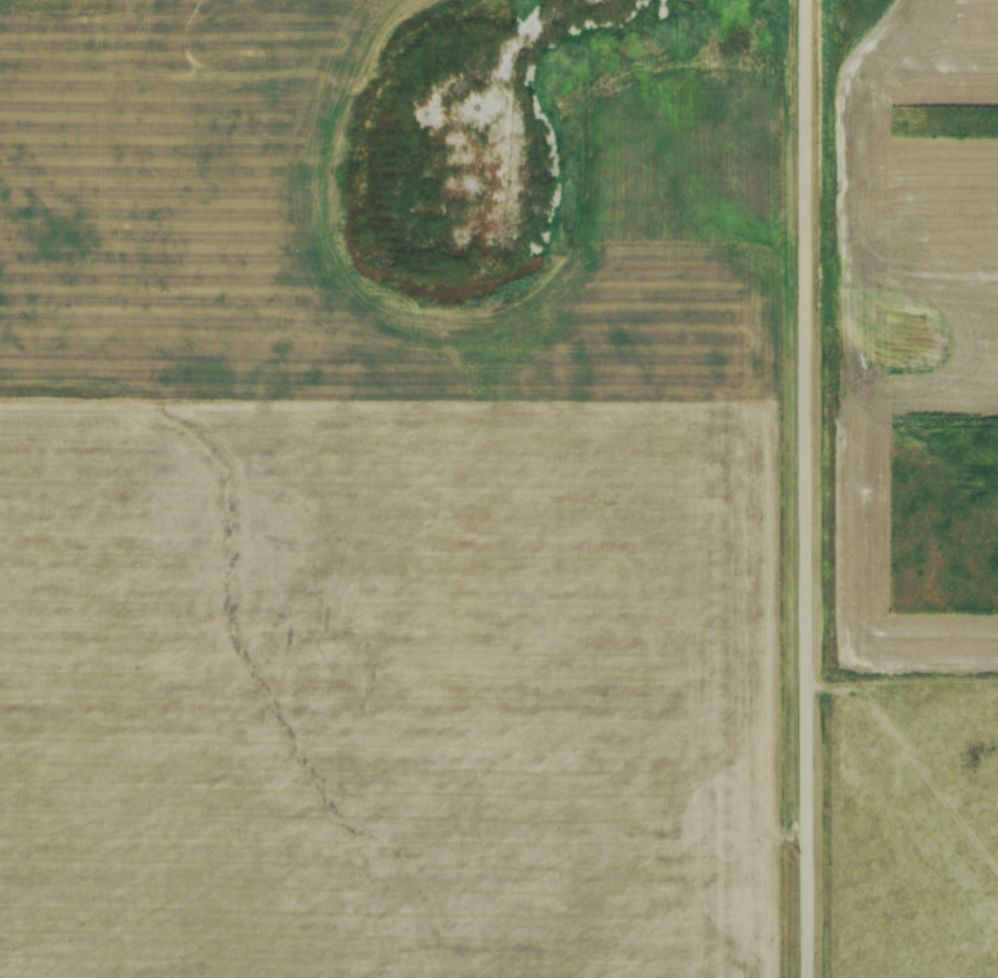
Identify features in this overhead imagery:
crop: (911, 378)
crop: (355, 443)
road: (807, 489)

